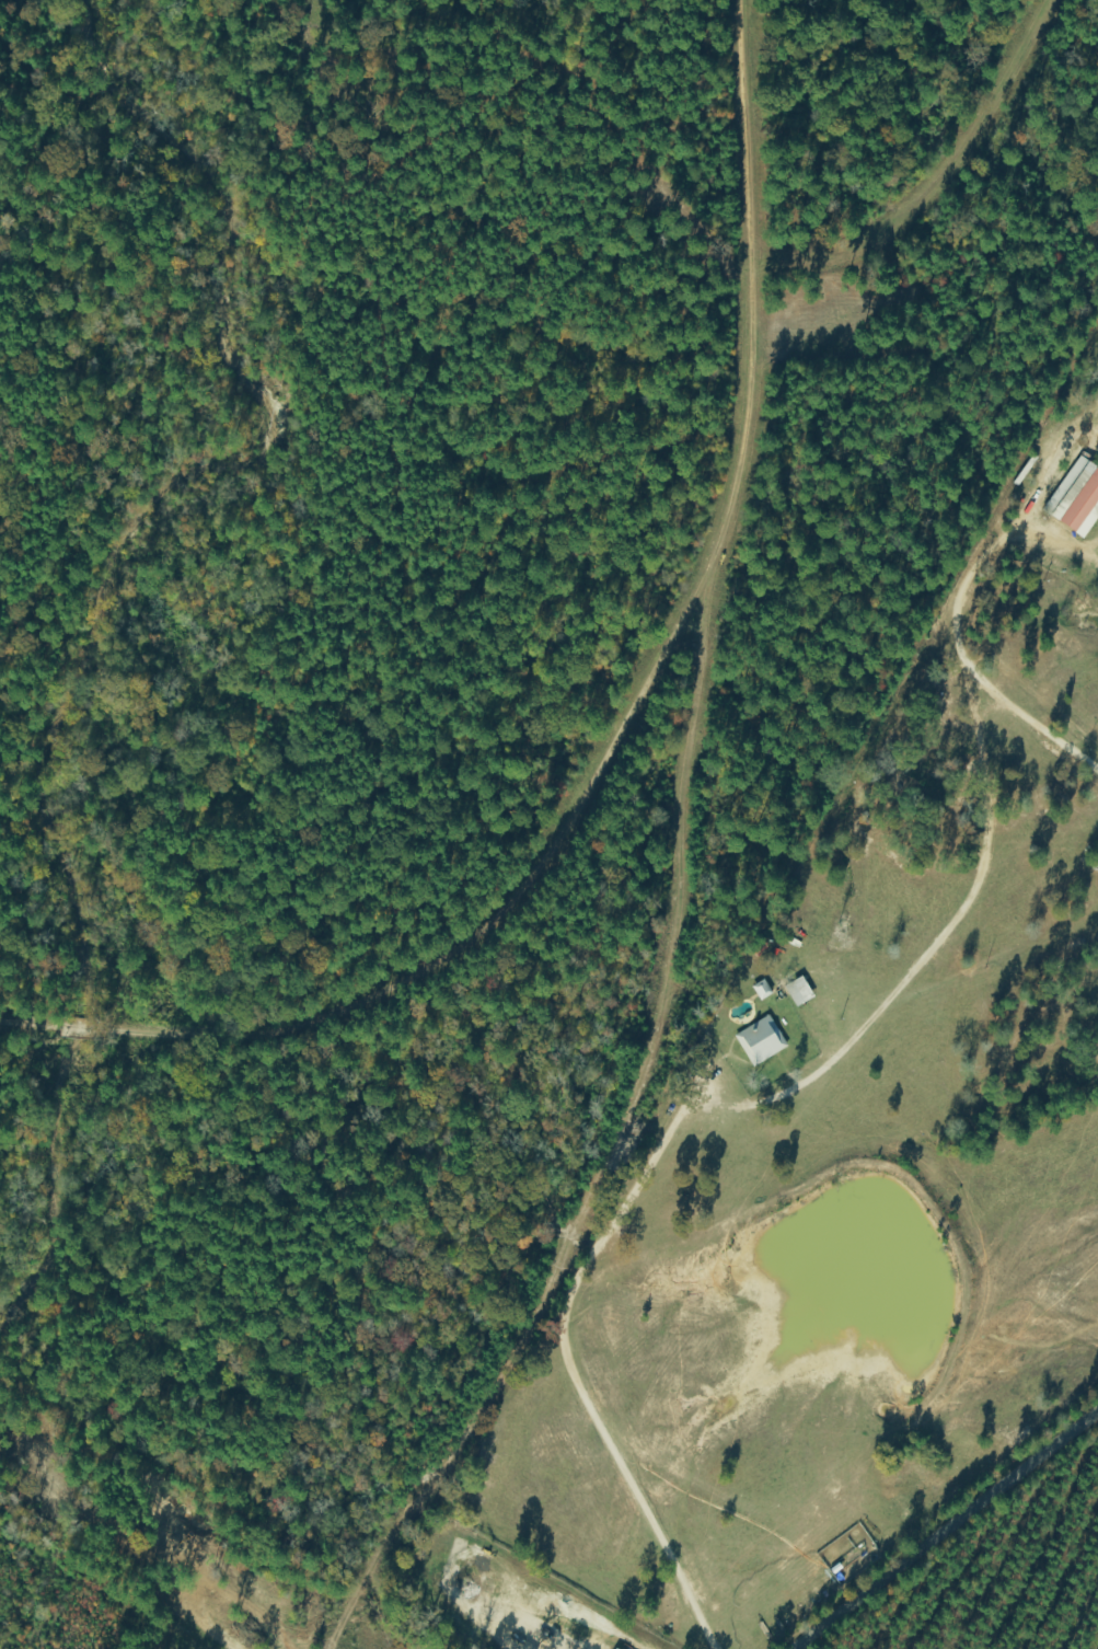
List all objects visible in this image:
road: (908, 151)
road: (628, 724)
building: (798, 993)
building: (761, 1042)
road: (945, 1529)

